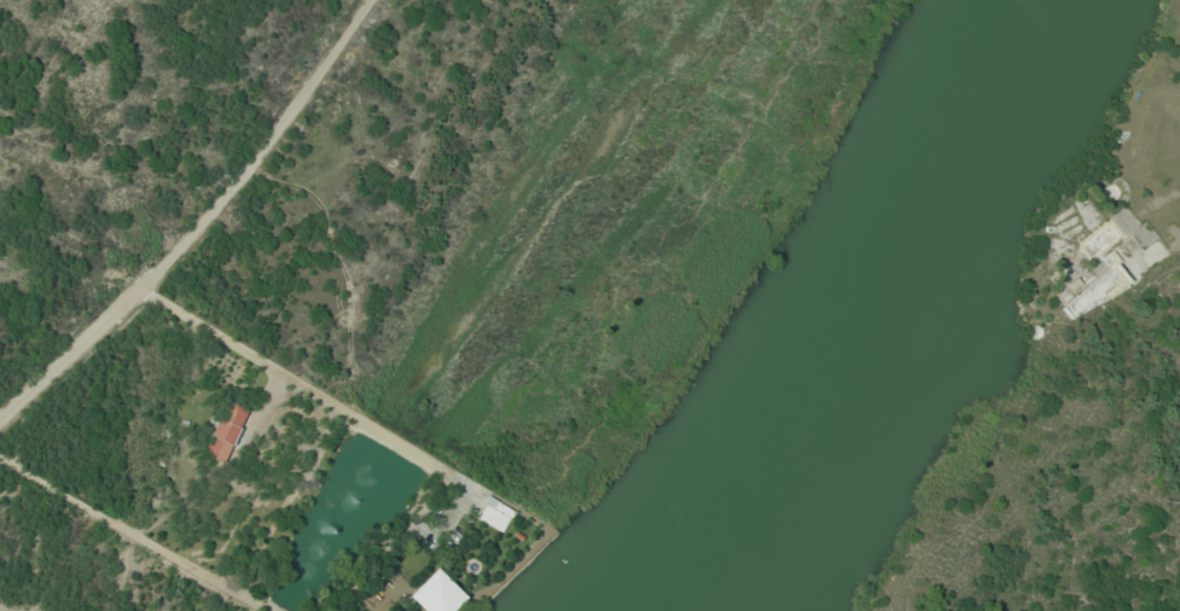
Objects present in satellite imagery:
road: (202, 225)
building: (1071, 225)
building: (1100, 284)
river: (861, 320)

